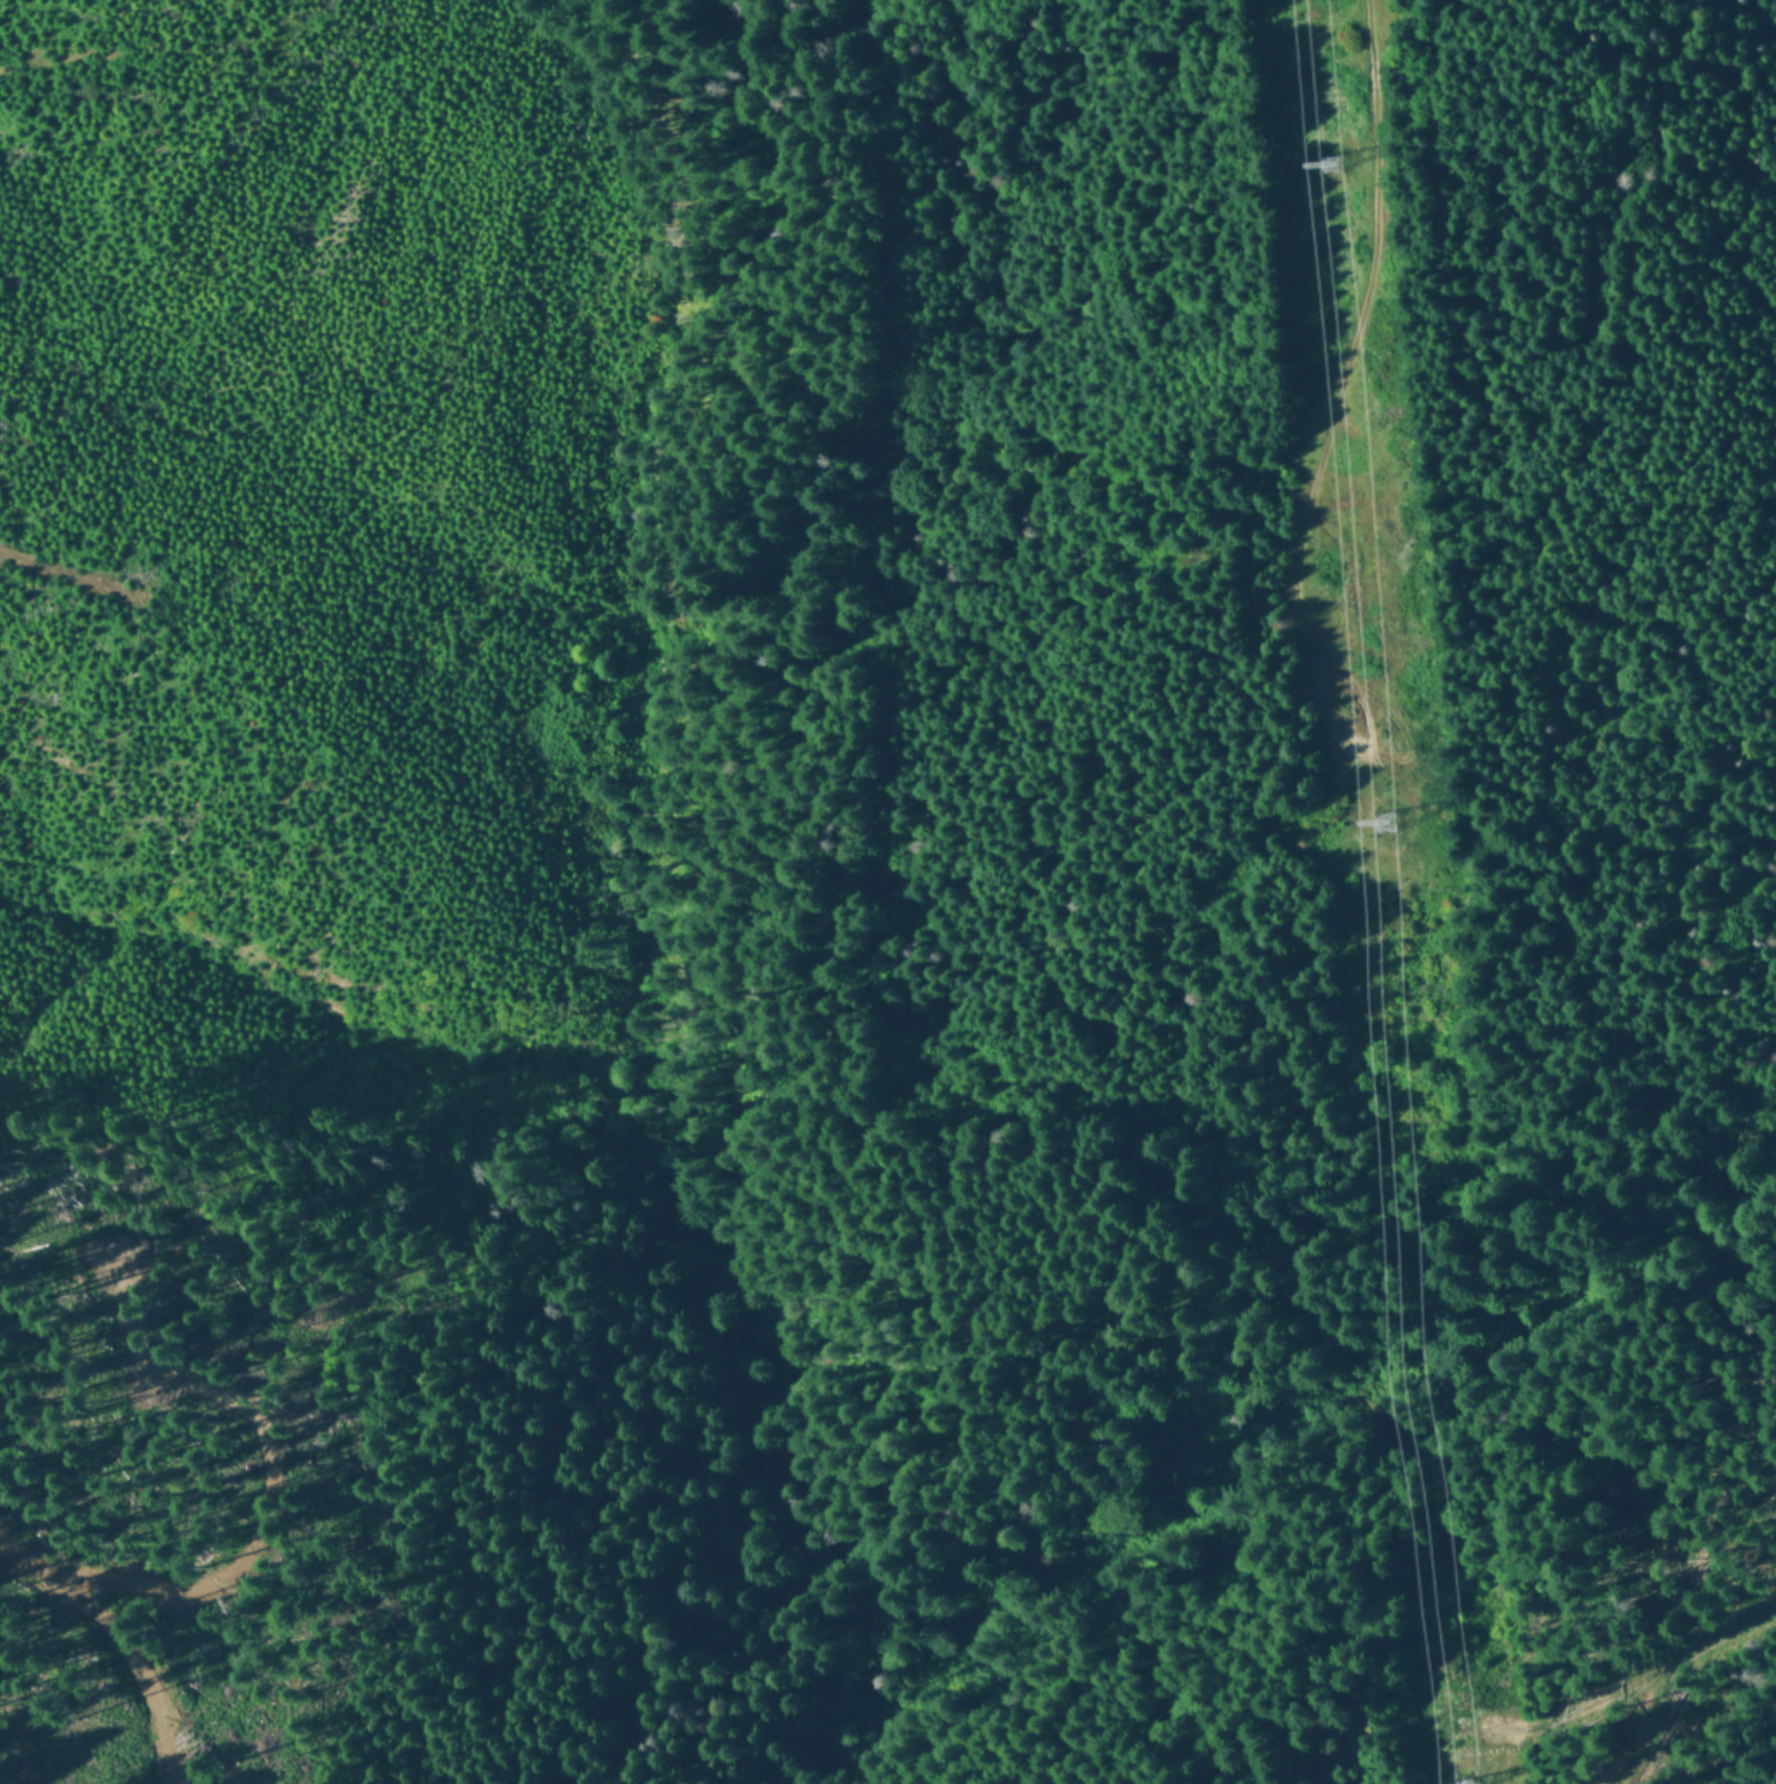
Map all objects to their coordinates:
power tower: (1350, 171)
power tower: (1415, 856)

